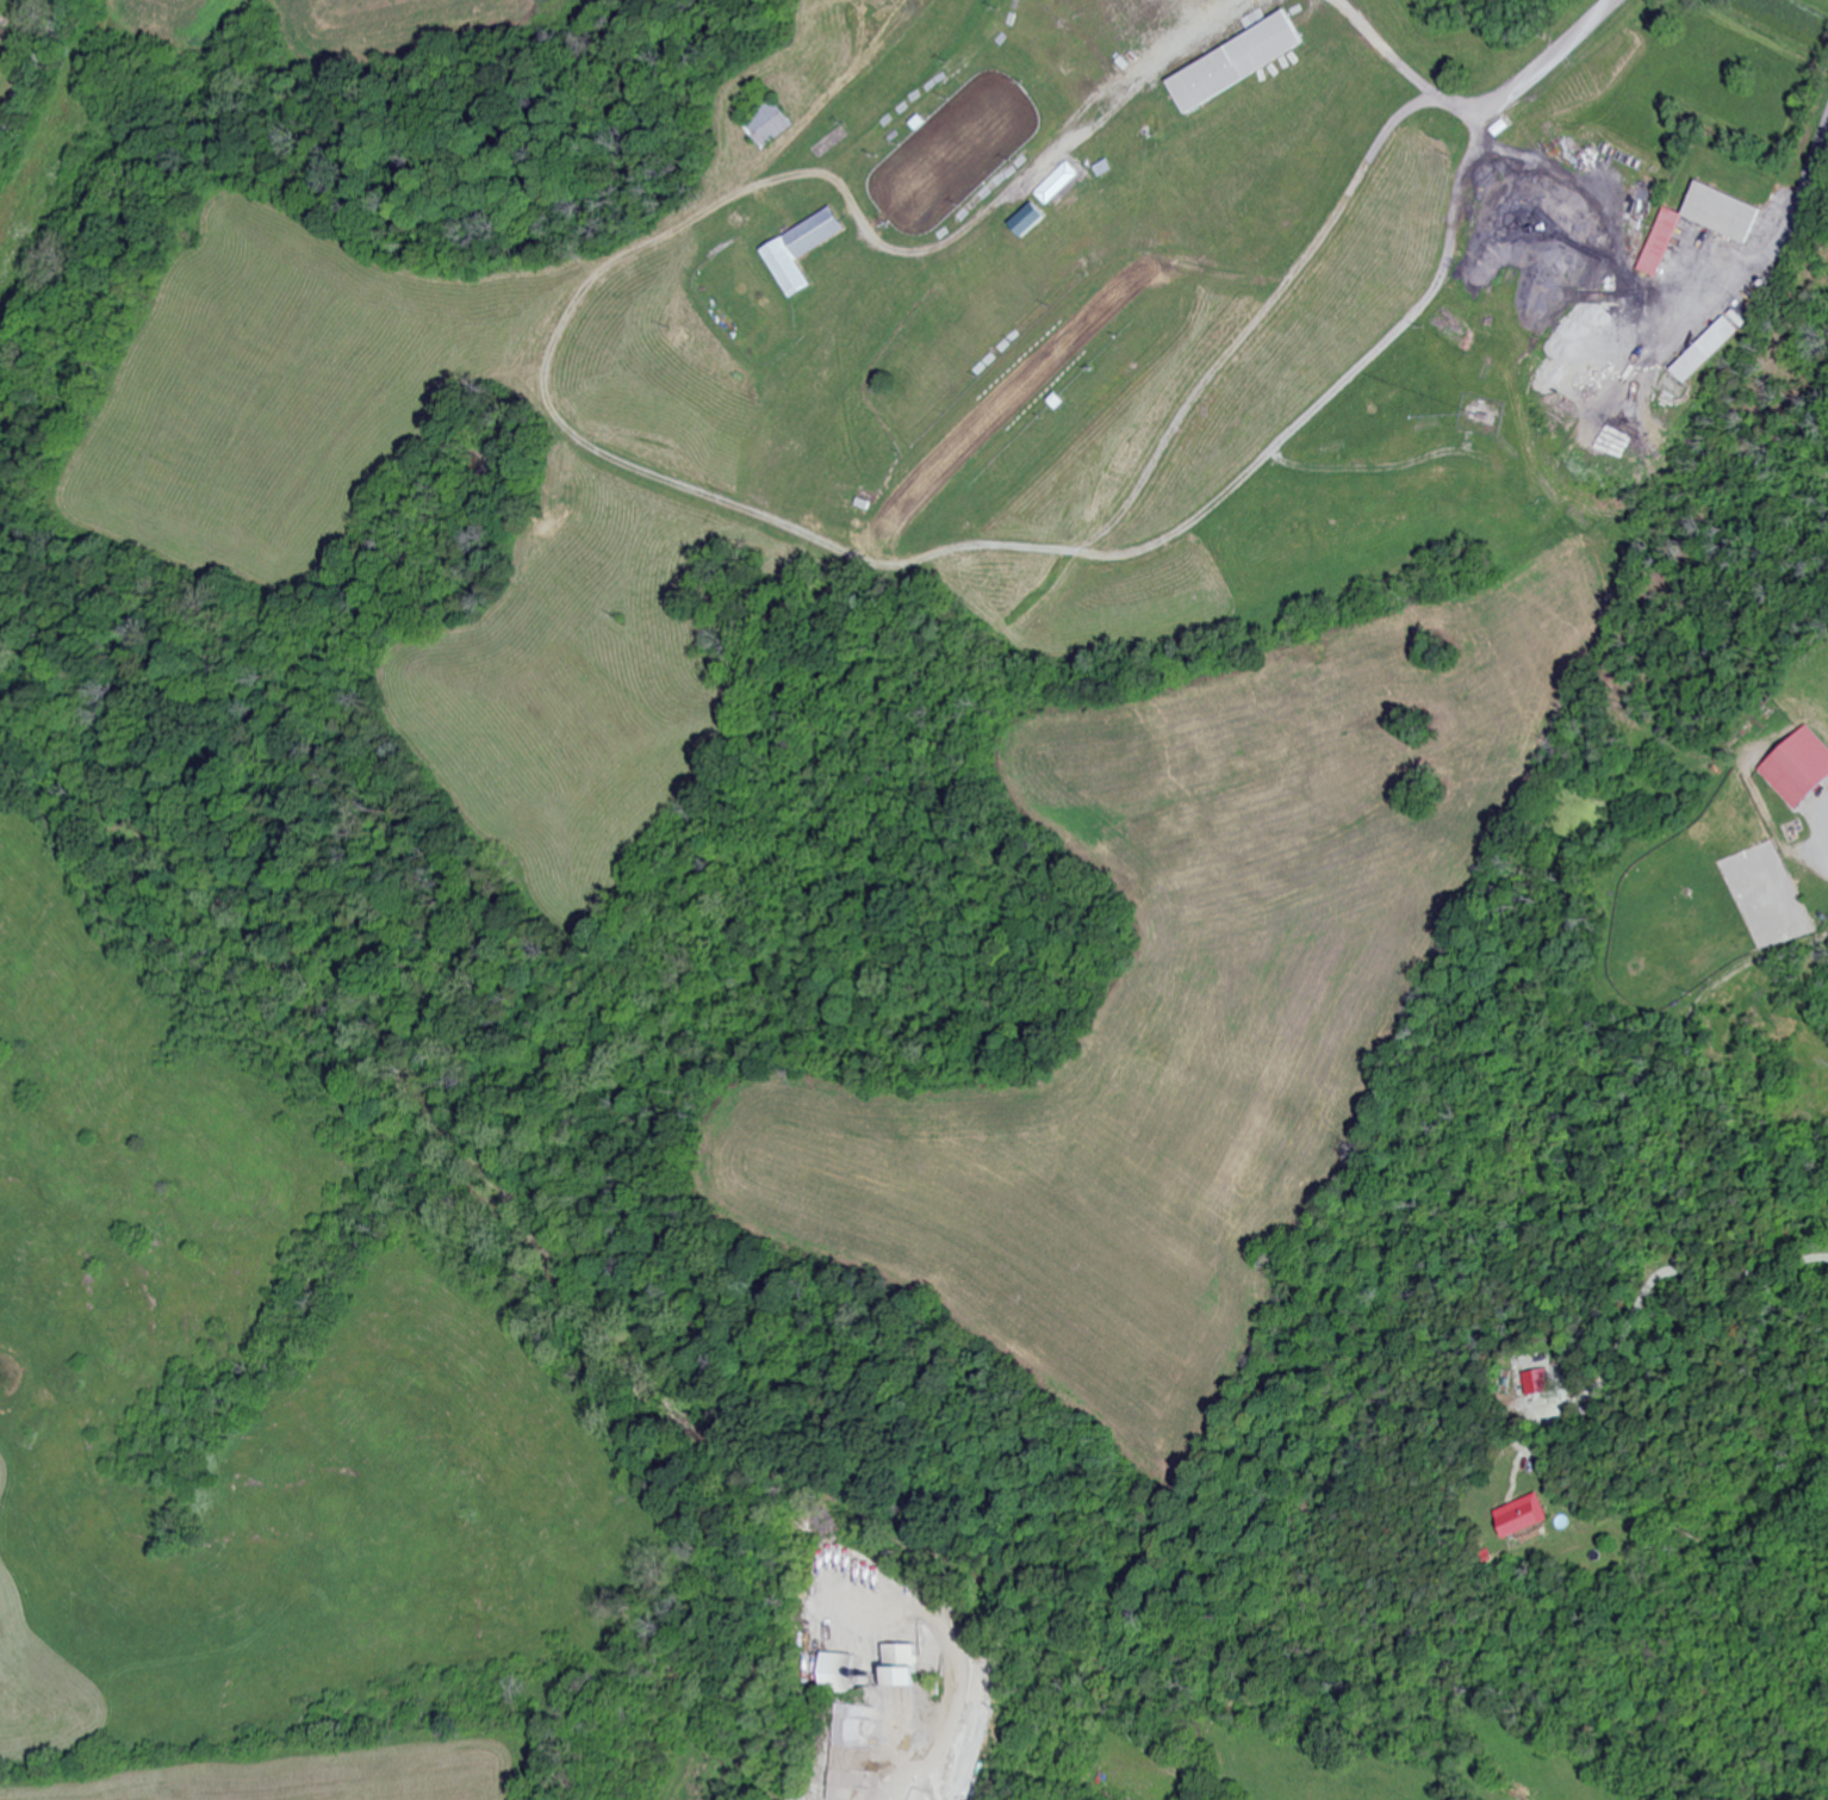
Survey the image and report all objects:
road: (1386, 48)
building: (1241, 62)
road: (32, 66)
road: (1532, 70)
building: (770, 124)
building: (1059, 184)
building: (1726, 213)
building: (1031, 221)
building: (1662, 242)
road: (1762, 246)
building: (806, 250)
building: (1711, 350)
road: (1338, 396)
road: (635, 461)
building: (1802, 768)
building: (1541, 1382)
building: (1527, 1516)
building: (902, 1665)
road: (959, 1668)
building: (839, 1672)

